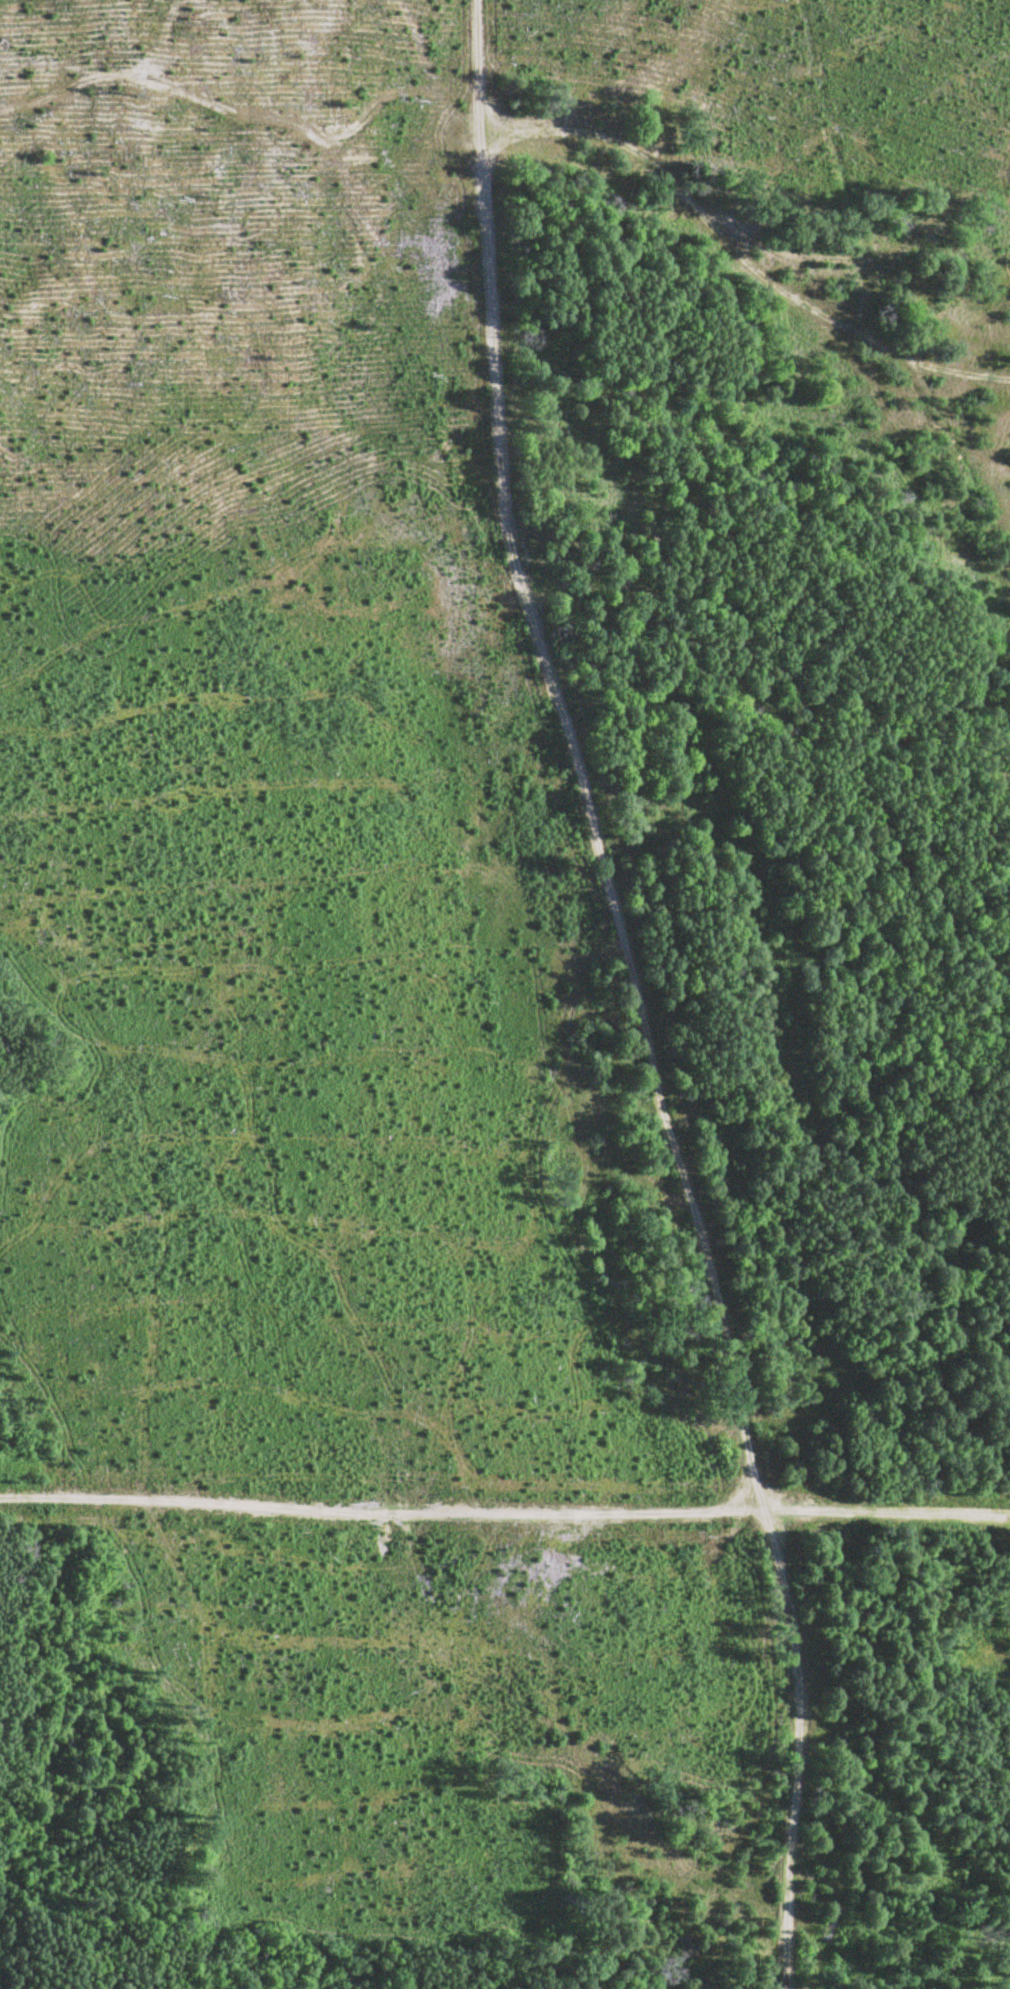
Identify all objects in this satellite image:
road: (640, 994)
road: (504, 1518)

